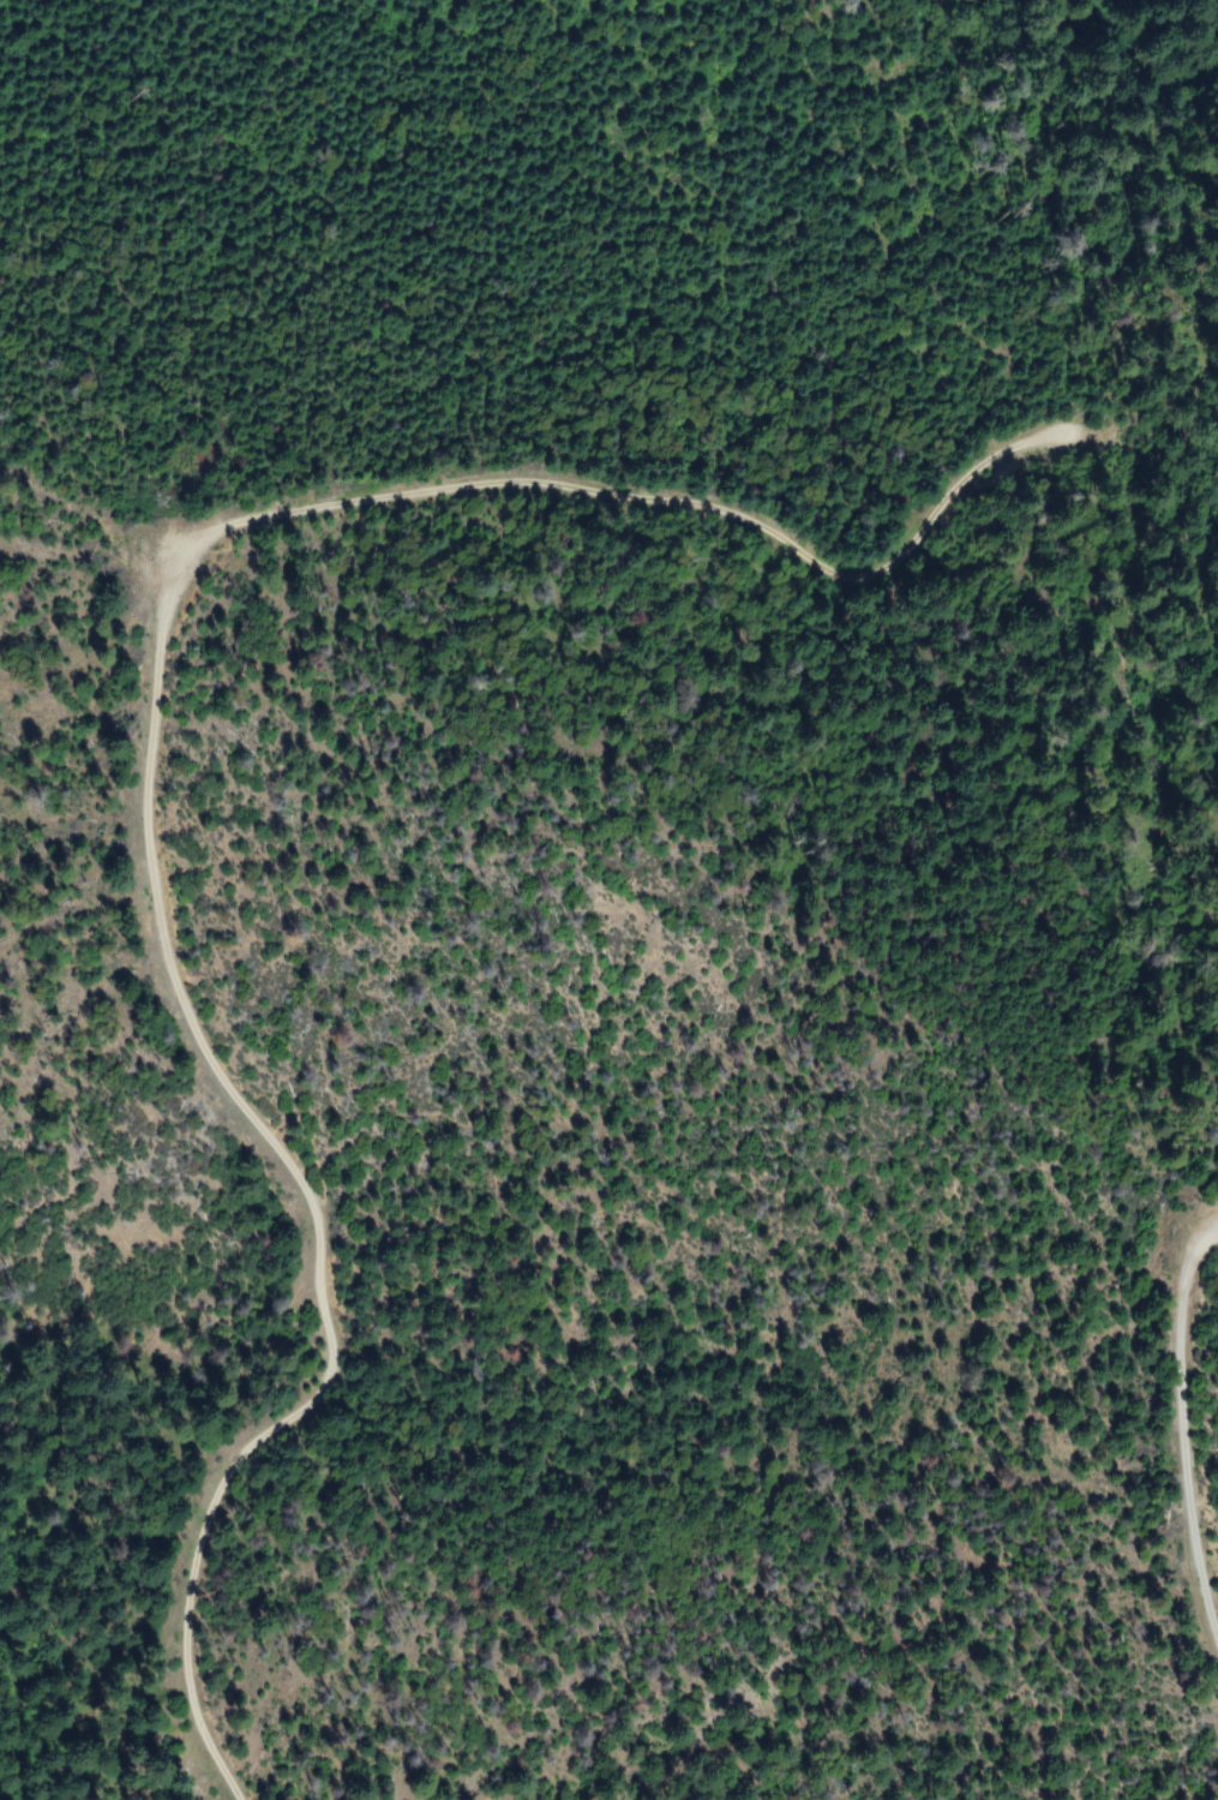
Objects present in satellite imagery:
road: (1183, 1400)

